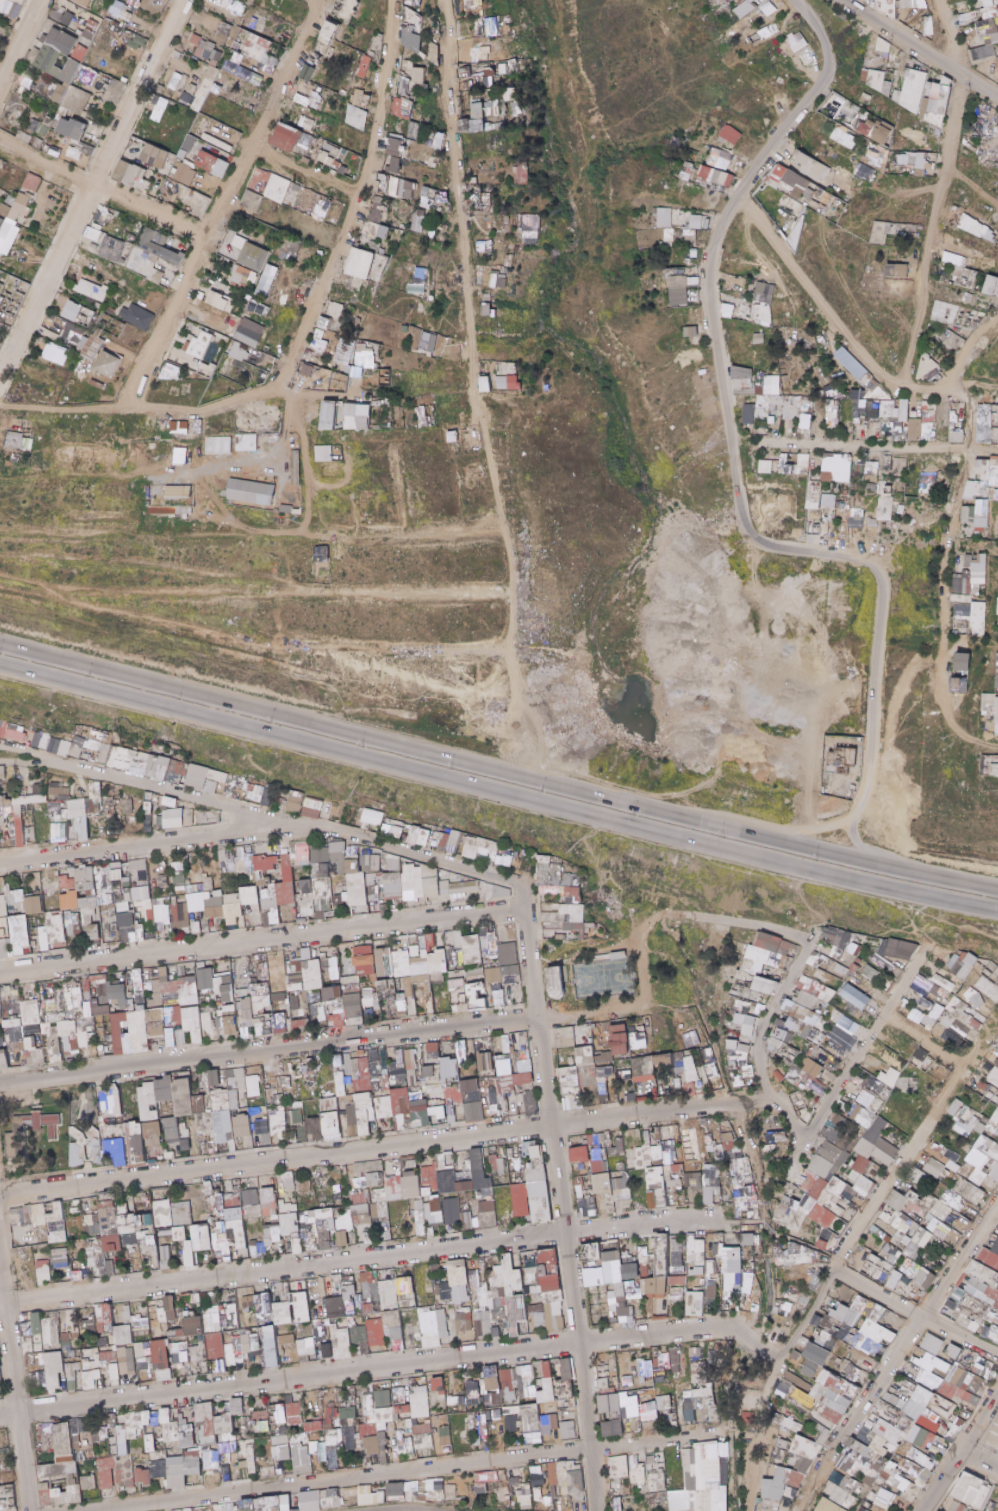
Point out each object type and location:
park: (588, 972)
park: (752, 1396)

